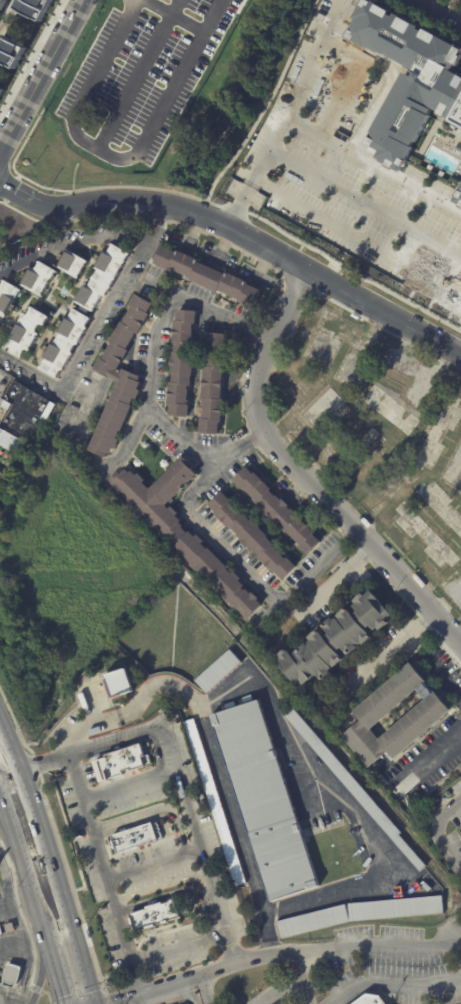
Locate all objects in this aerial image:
road: (460, 0)
building: (3, 4)
building: (35, 7)
road: (440, 10)
road: (7, 12)
road: (183, 12)
road: (421, 21)
building: (10, 51)
road: (40, 75)
building: (408, 80)
building: (0, 89)
parking lot: (158, 90)
road: (261, 109)
road: (286, 112)
road: (18, 194)
building: (458, 196)
road: (69, 239)
road: (259, 242)
building: (75, 264)
building: (101, 276)
building: (207, 277)
building: (39, 279)
building: (435, 281)
building: (8, 296)
building: (0, 322)
road: (96, 329)
building: (27, 332)
building: (123, 336)
building: (65, 341)
road: (152, 355)
building: (181, 364)
building: (213, 385)
building: (23, 412)
road: (89, 413)
building: (116, 413)
road: (180, 435)
building: (9, 440)
road: (301, 475)
building: (0, 481)
building: (158, 494)
building: (276, 513)
building: (251, 537)
road: (228, 551)
building: (218, 573)
road: (336, 579)
road: (448, 601)
building: (336, 642)
road: (388, 652)
building: (218, 672)
building: (119, 685)
building: (425, 691)
road: (91, 704)
road: (135, 704)
building: (424, 716)
road: (282, 724)
road: (160, 725)
road: (10, 745)
road: (431, 754)
building: (122, 763)
building: (354, 786)
building: (447, 793)
building: (214, 801)
building: (265, 801)
road: (151, 815)
building: (460, 829)
road: (436, 831)
building: (136, 839)
road: (194, 849)
road: (24, 864)
road: (145, 866)
road: (101, 871)
railway: (45, 879)
road: (58, 885)
road: (161, 886)
building: (160, 914)
building: (361, 914)
road: (225, 929)
road: (268, 937)
road: (348, 945)
road: (177, 947)
road: (42, 971)
road: (59, 971)
building: (11, 974)
road: (299, 977)
road: (408, 984)
road: (182, 991)
road: (283, 992)
road: (344, 995)
building: (370, 1000)

